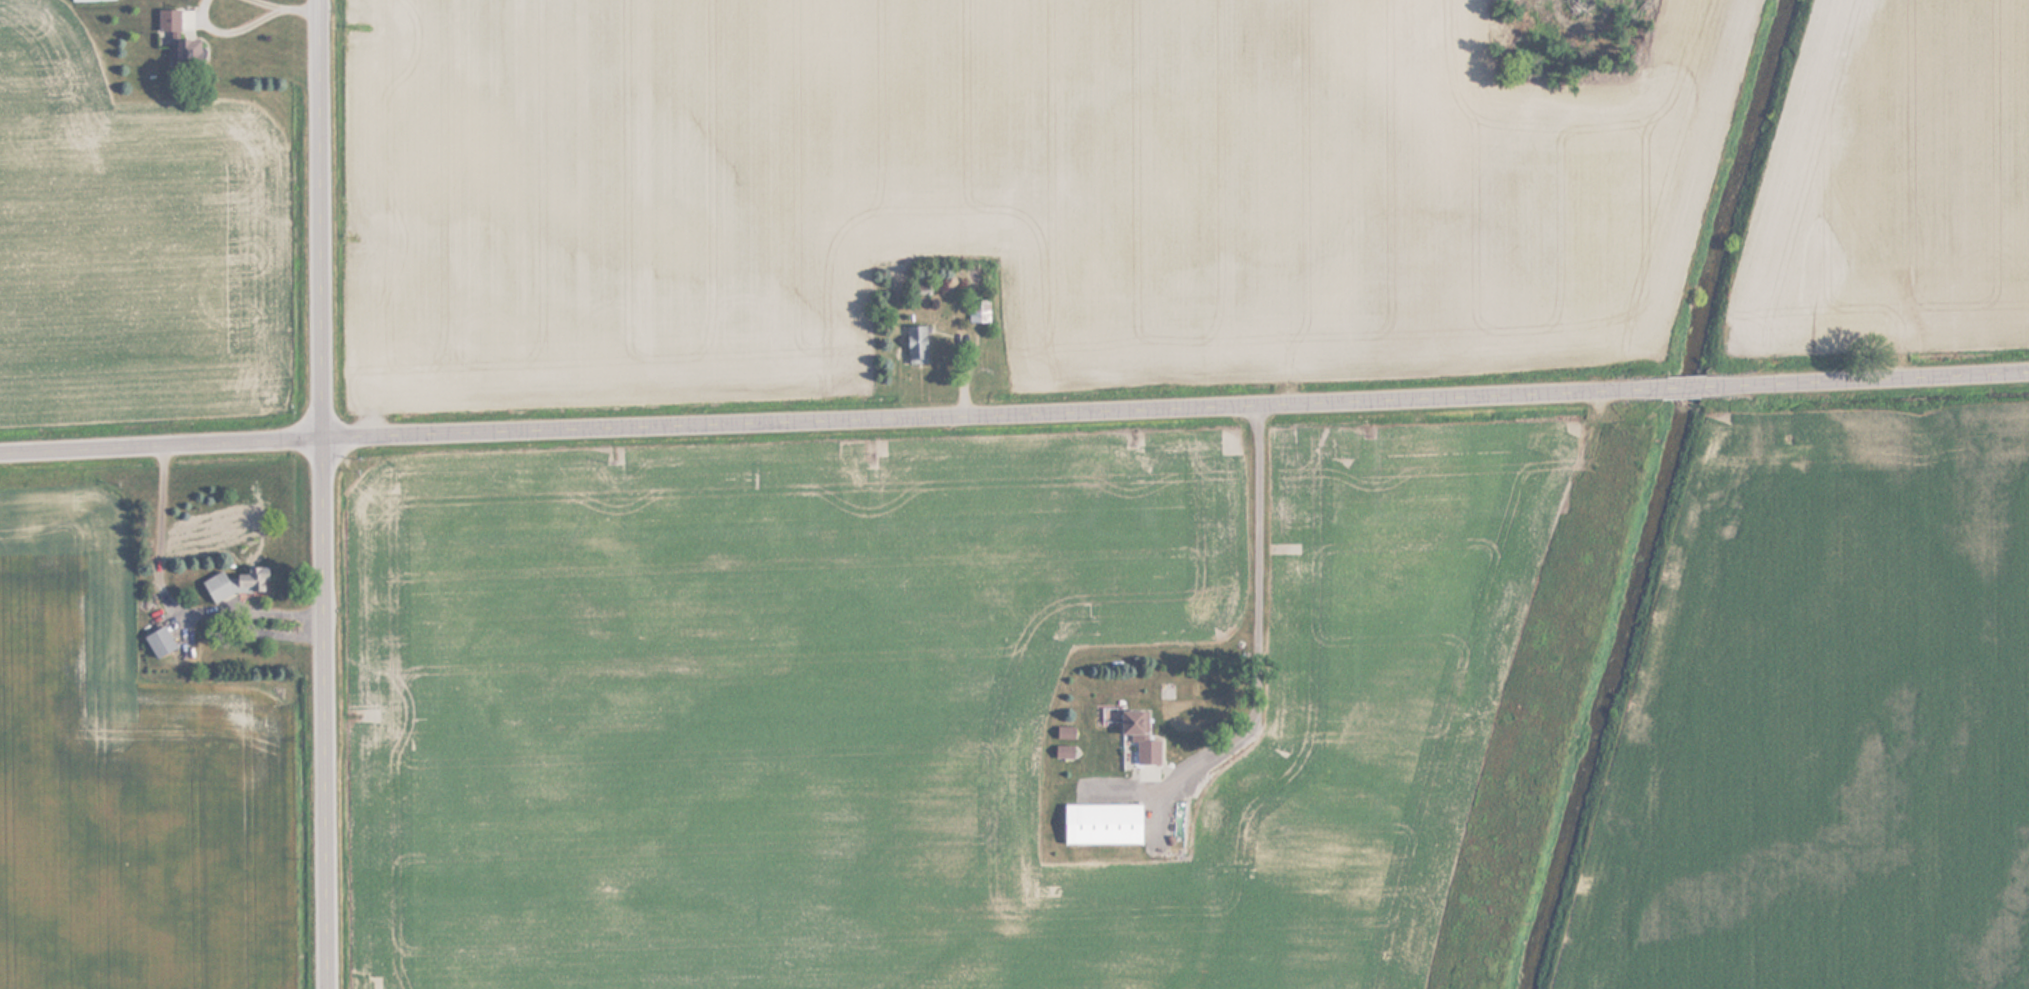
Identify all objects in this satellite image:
building: (91, 0)
building: (177, 37)
building: (978, 311)
building: (916, 345)
road: (1868, 379)
road: (1690, 388)
road: (835, 420)
road: (326, 494)
river: (1663, 495)
building: (239, 583)
building: (158, 642)
building: (1139, 737)
building: (1101, 823)

